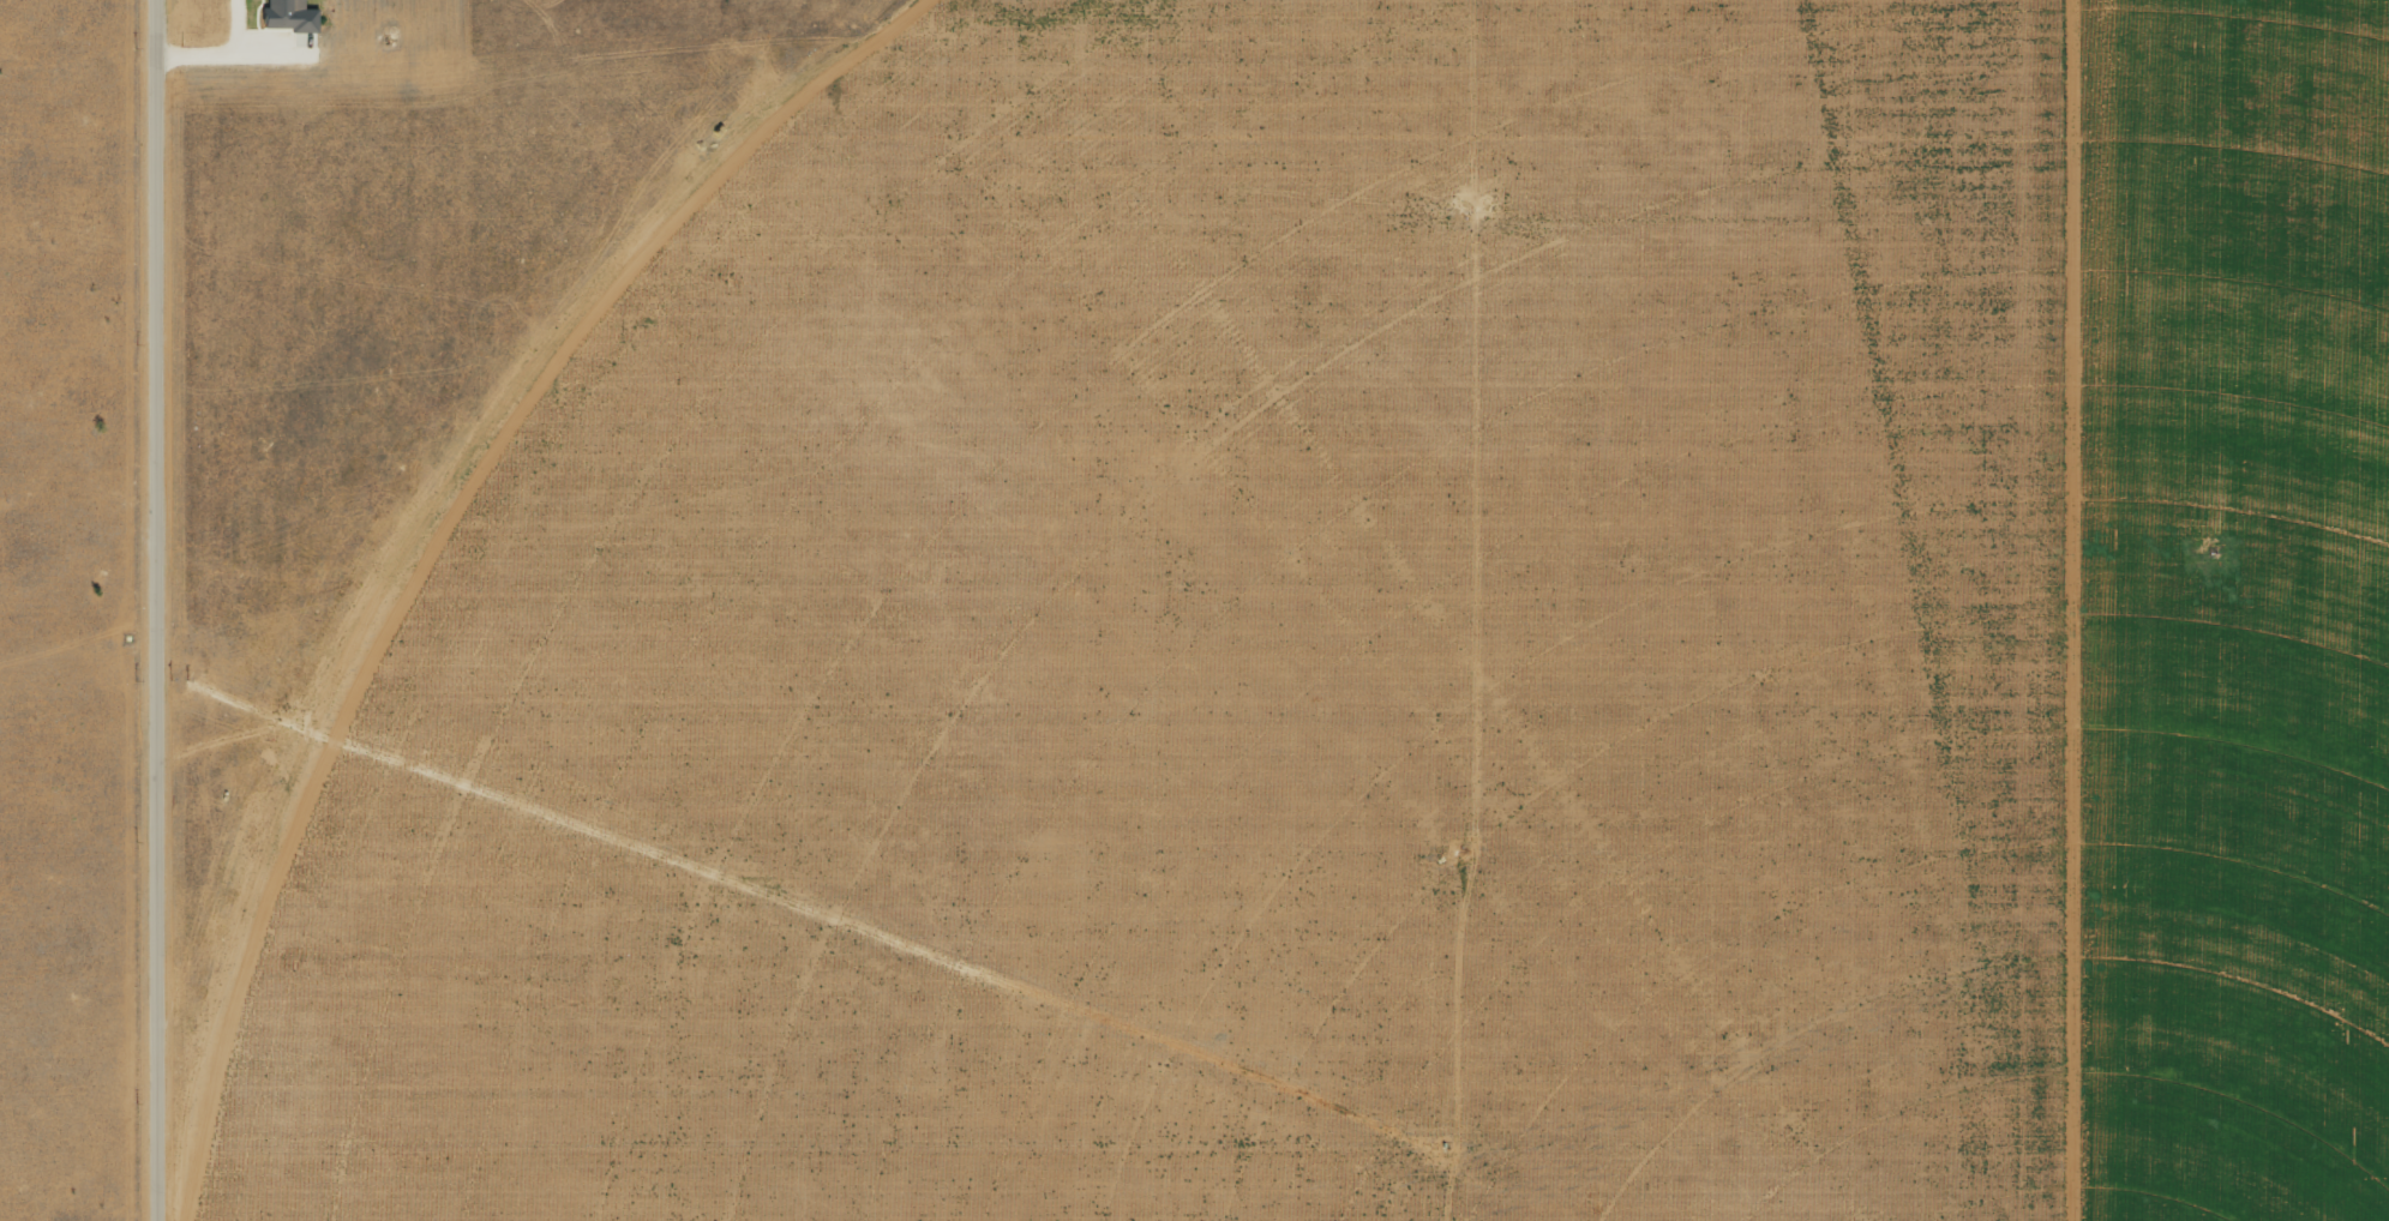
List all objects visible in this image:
road: (1567, 90)
road: (67, 596)
road: (136, 609)

